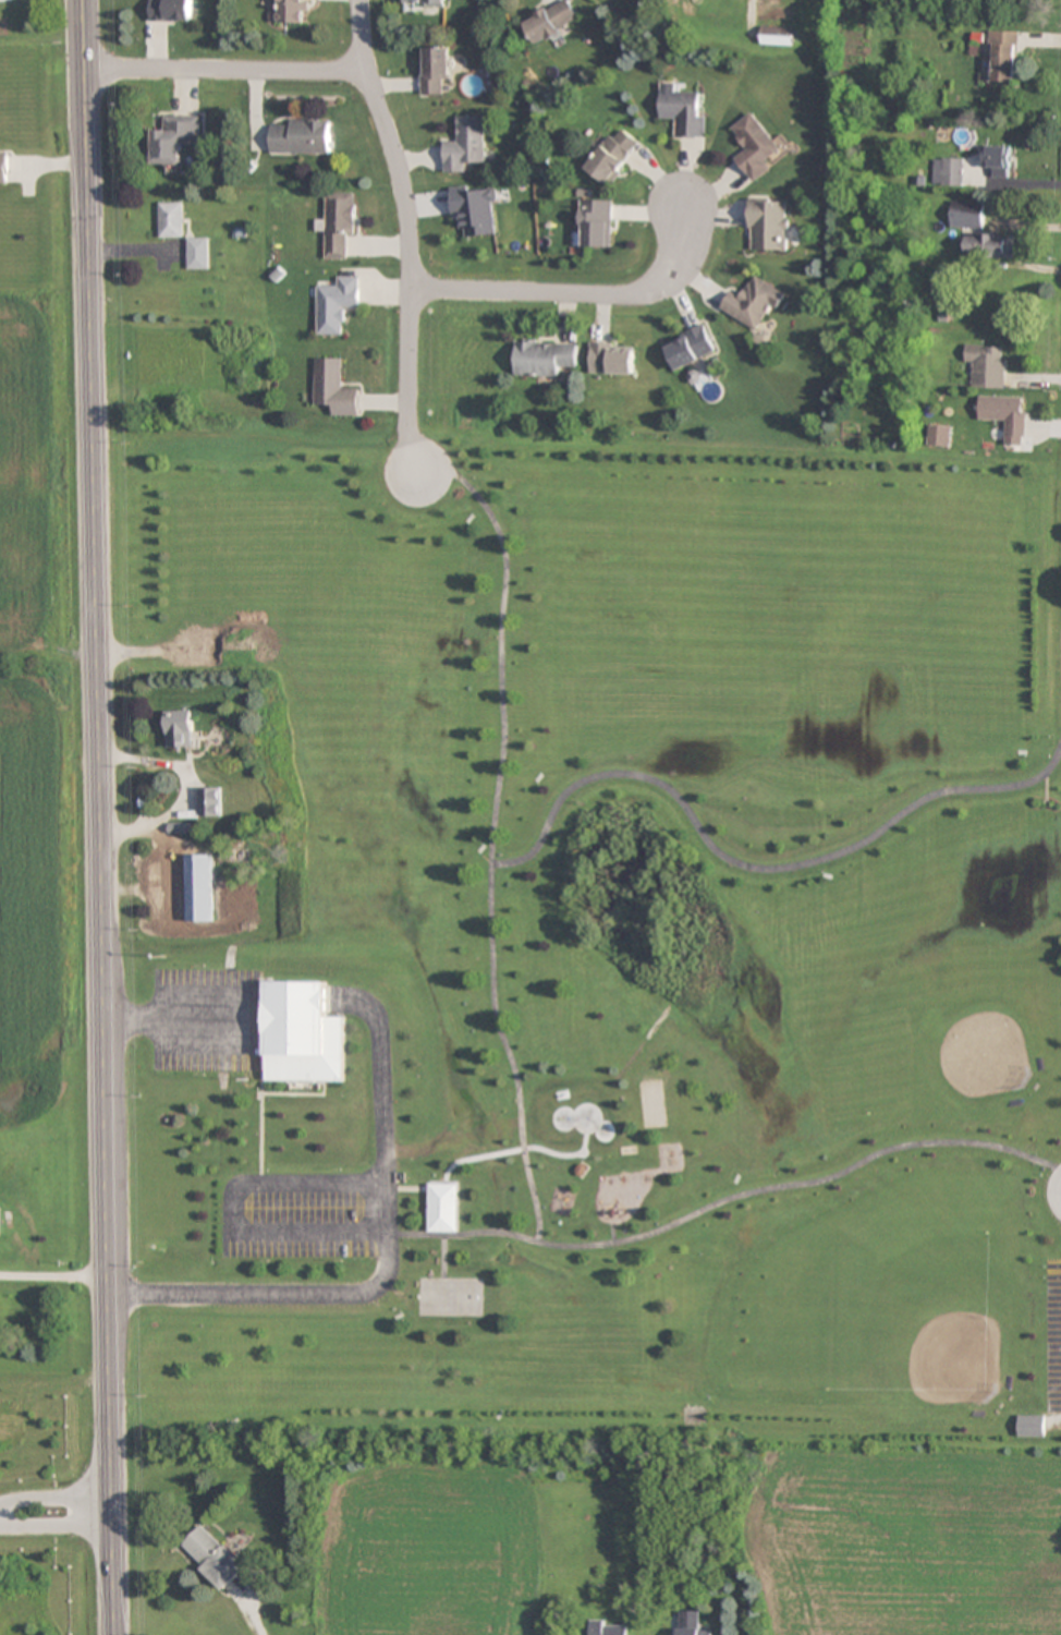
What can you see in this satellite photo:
building: (424, 3)
building: (170, 10)
building: (290, 12)
building: (551, 23)
building: (777, 35)
building: (1002, 56)
road: (223, 71)
building: (435, 71)
building: (684, 113)
building: (298, 136)
building: (173, 138)
building: (465, 145)
building: (755, 146)
building: (613, 156)
building: (997, 161)
building: (2, 167)
building: (947, 172)
building: (474, 210)
building: (966, 214)
building: (170, 219)
building: (596, 222)
building: (337, 223)
building: (768, 223)
road: (404, 238)
building: (989, 244)
building: (197, 253)
road: (575, 294)
building: (753, 303)
building: (334, 304)
building: (691, 352)
building: (544, 358)
building: (611, 359)
building: (987, 365)
building: (332, 387)
building: (1005, 415)
building: (938, 435)
building: (178, 729)
building: (208, 801)
road: (96, 818)
road: (493, 834)
road: (754, 870)
building: (166, 887)
park: (603, 946)
road: (175, 1016)
building: (303, 1033)
park: (568, 1116)
road: (734, 1197)
road: (379, 1203)
building: (442, 1207)
parking lot: (309, 1215)
road: (275, 1230)
park: (449, 1296)
parking lot: (1053, 1334)
building: (1033, 1425)
road: (53, 1495)
road: (56, 1528)
building: (214, 1557)
building: (691, 1623)
building: (608, 1627)

